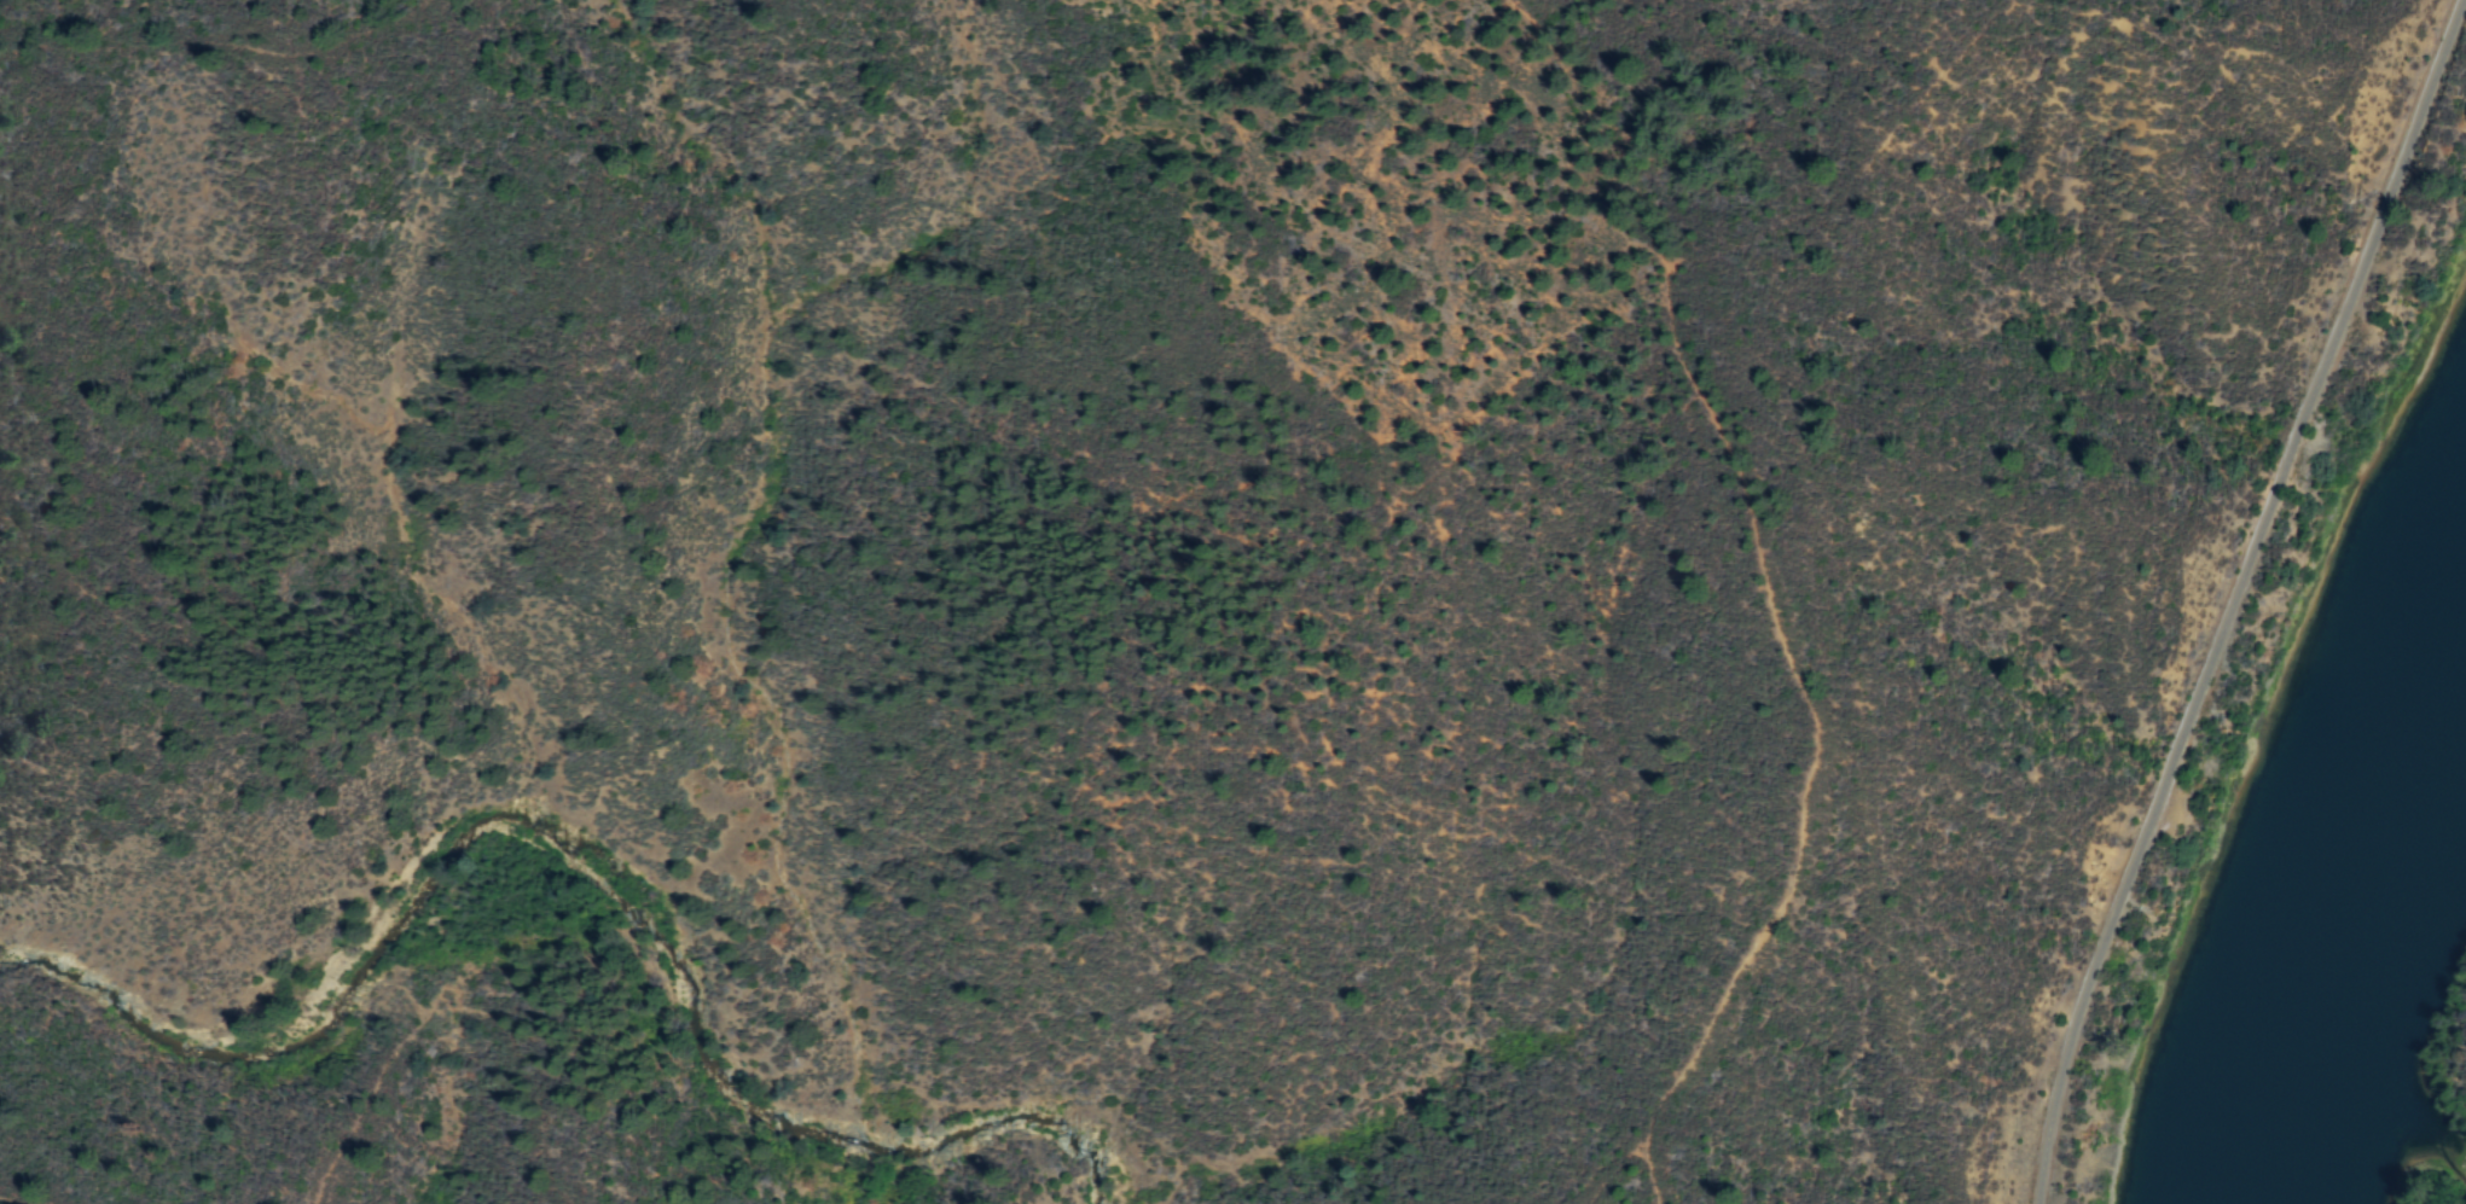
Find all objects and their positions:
road: (2234, 597)
river: (2356, 914)

